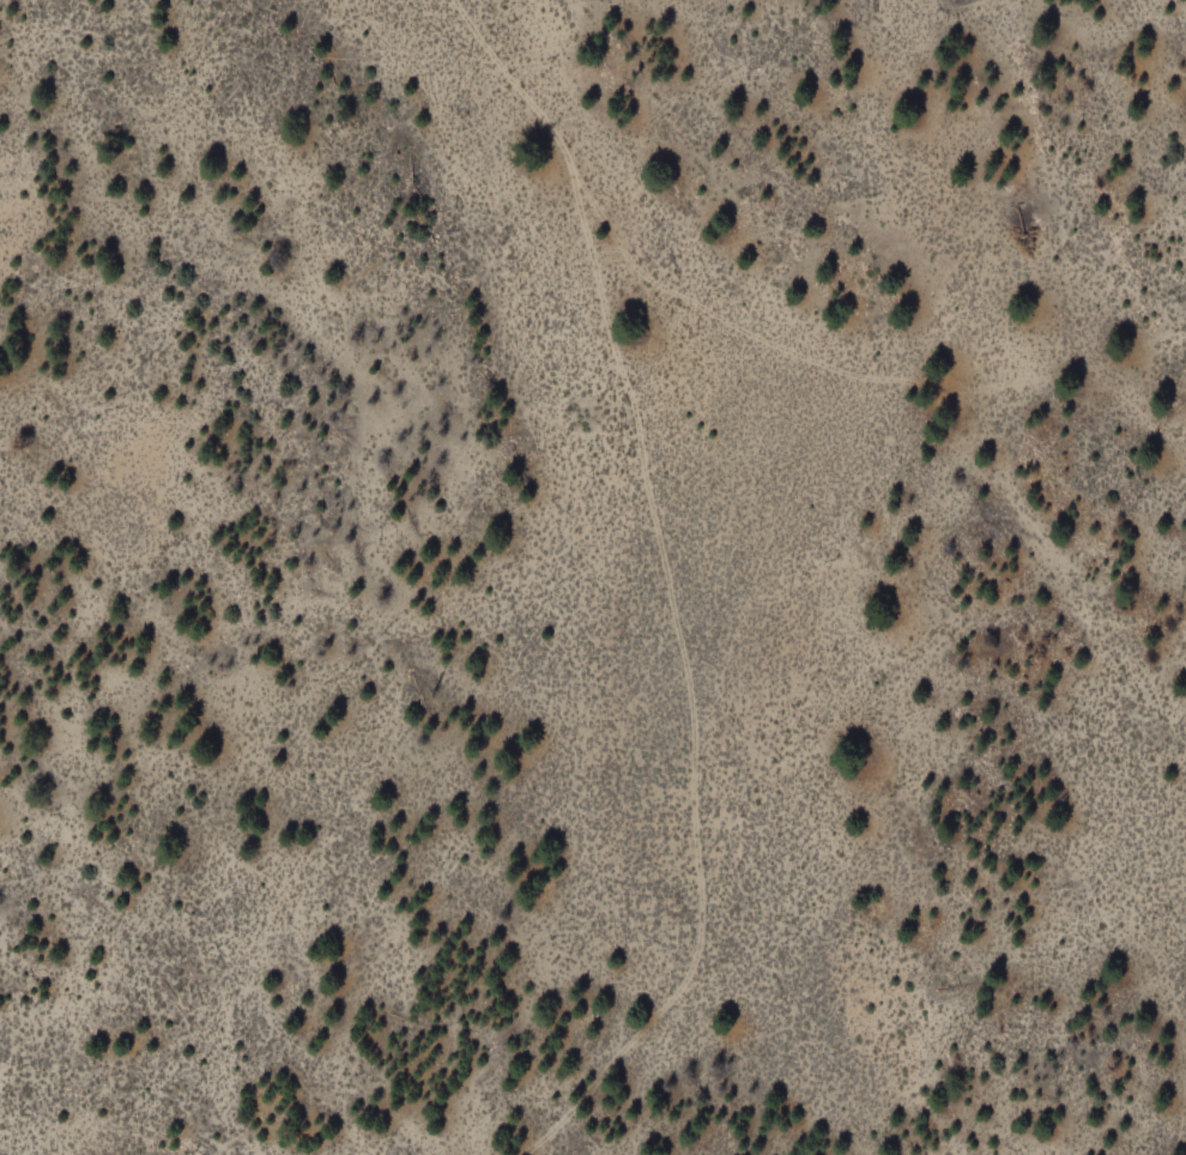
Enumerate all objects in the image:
road: (667, 586)

